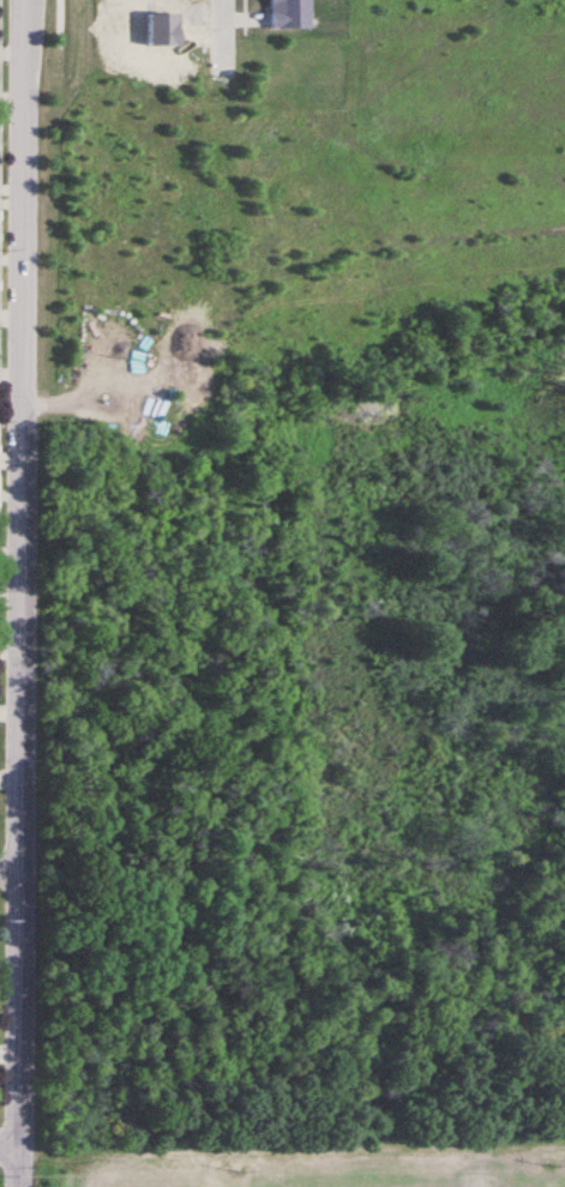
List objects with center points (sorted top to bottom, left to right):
building: (289, 14)
road: (220, 76)
road: (20, 592)
road: (10, 867)
road: (10, 1145)

